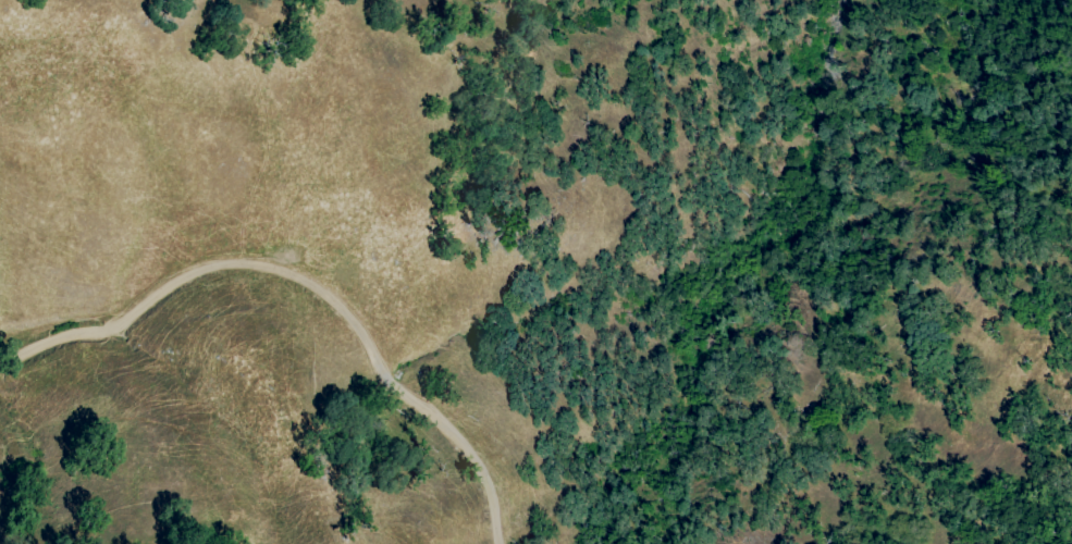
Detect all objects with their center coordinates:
road: (306, 284)

